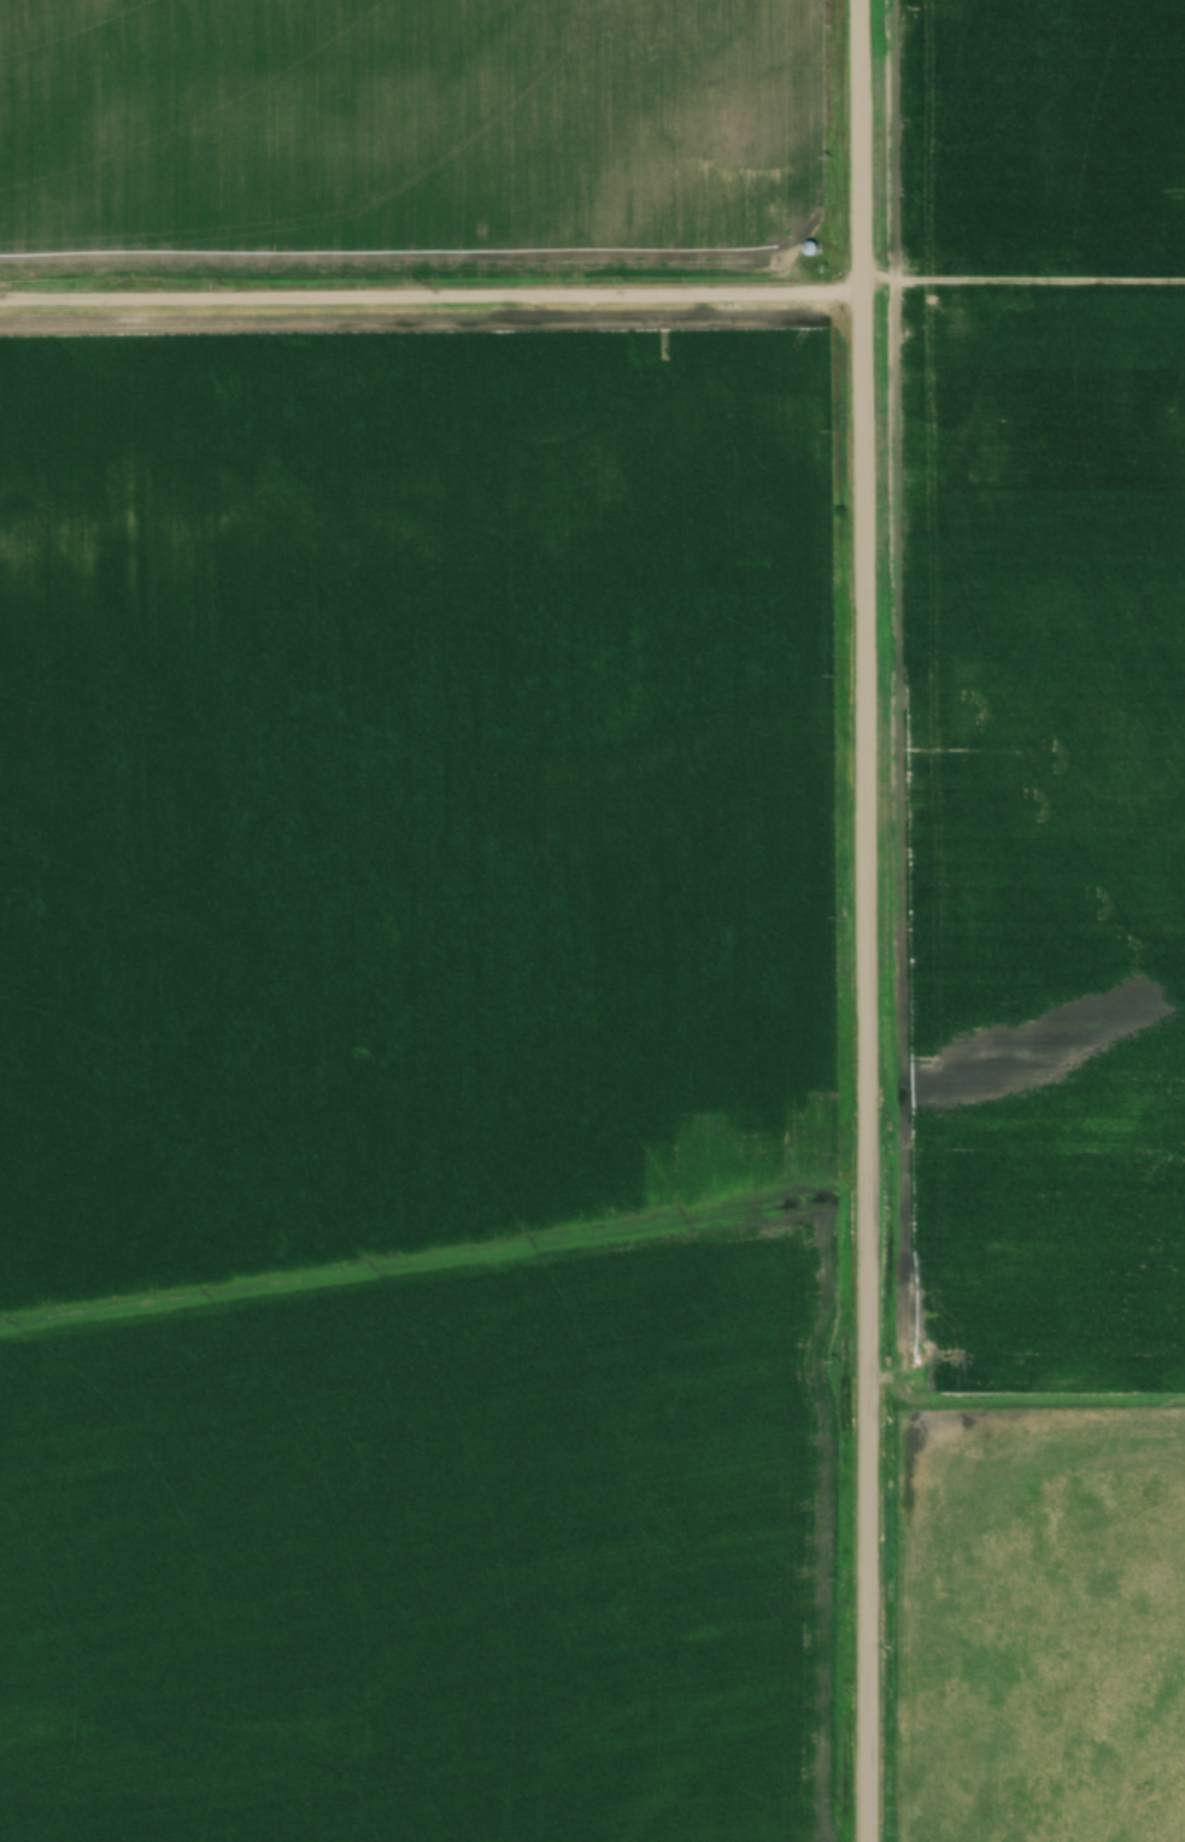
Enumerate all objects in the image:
road: (430, 295)
road: (866, 920)

